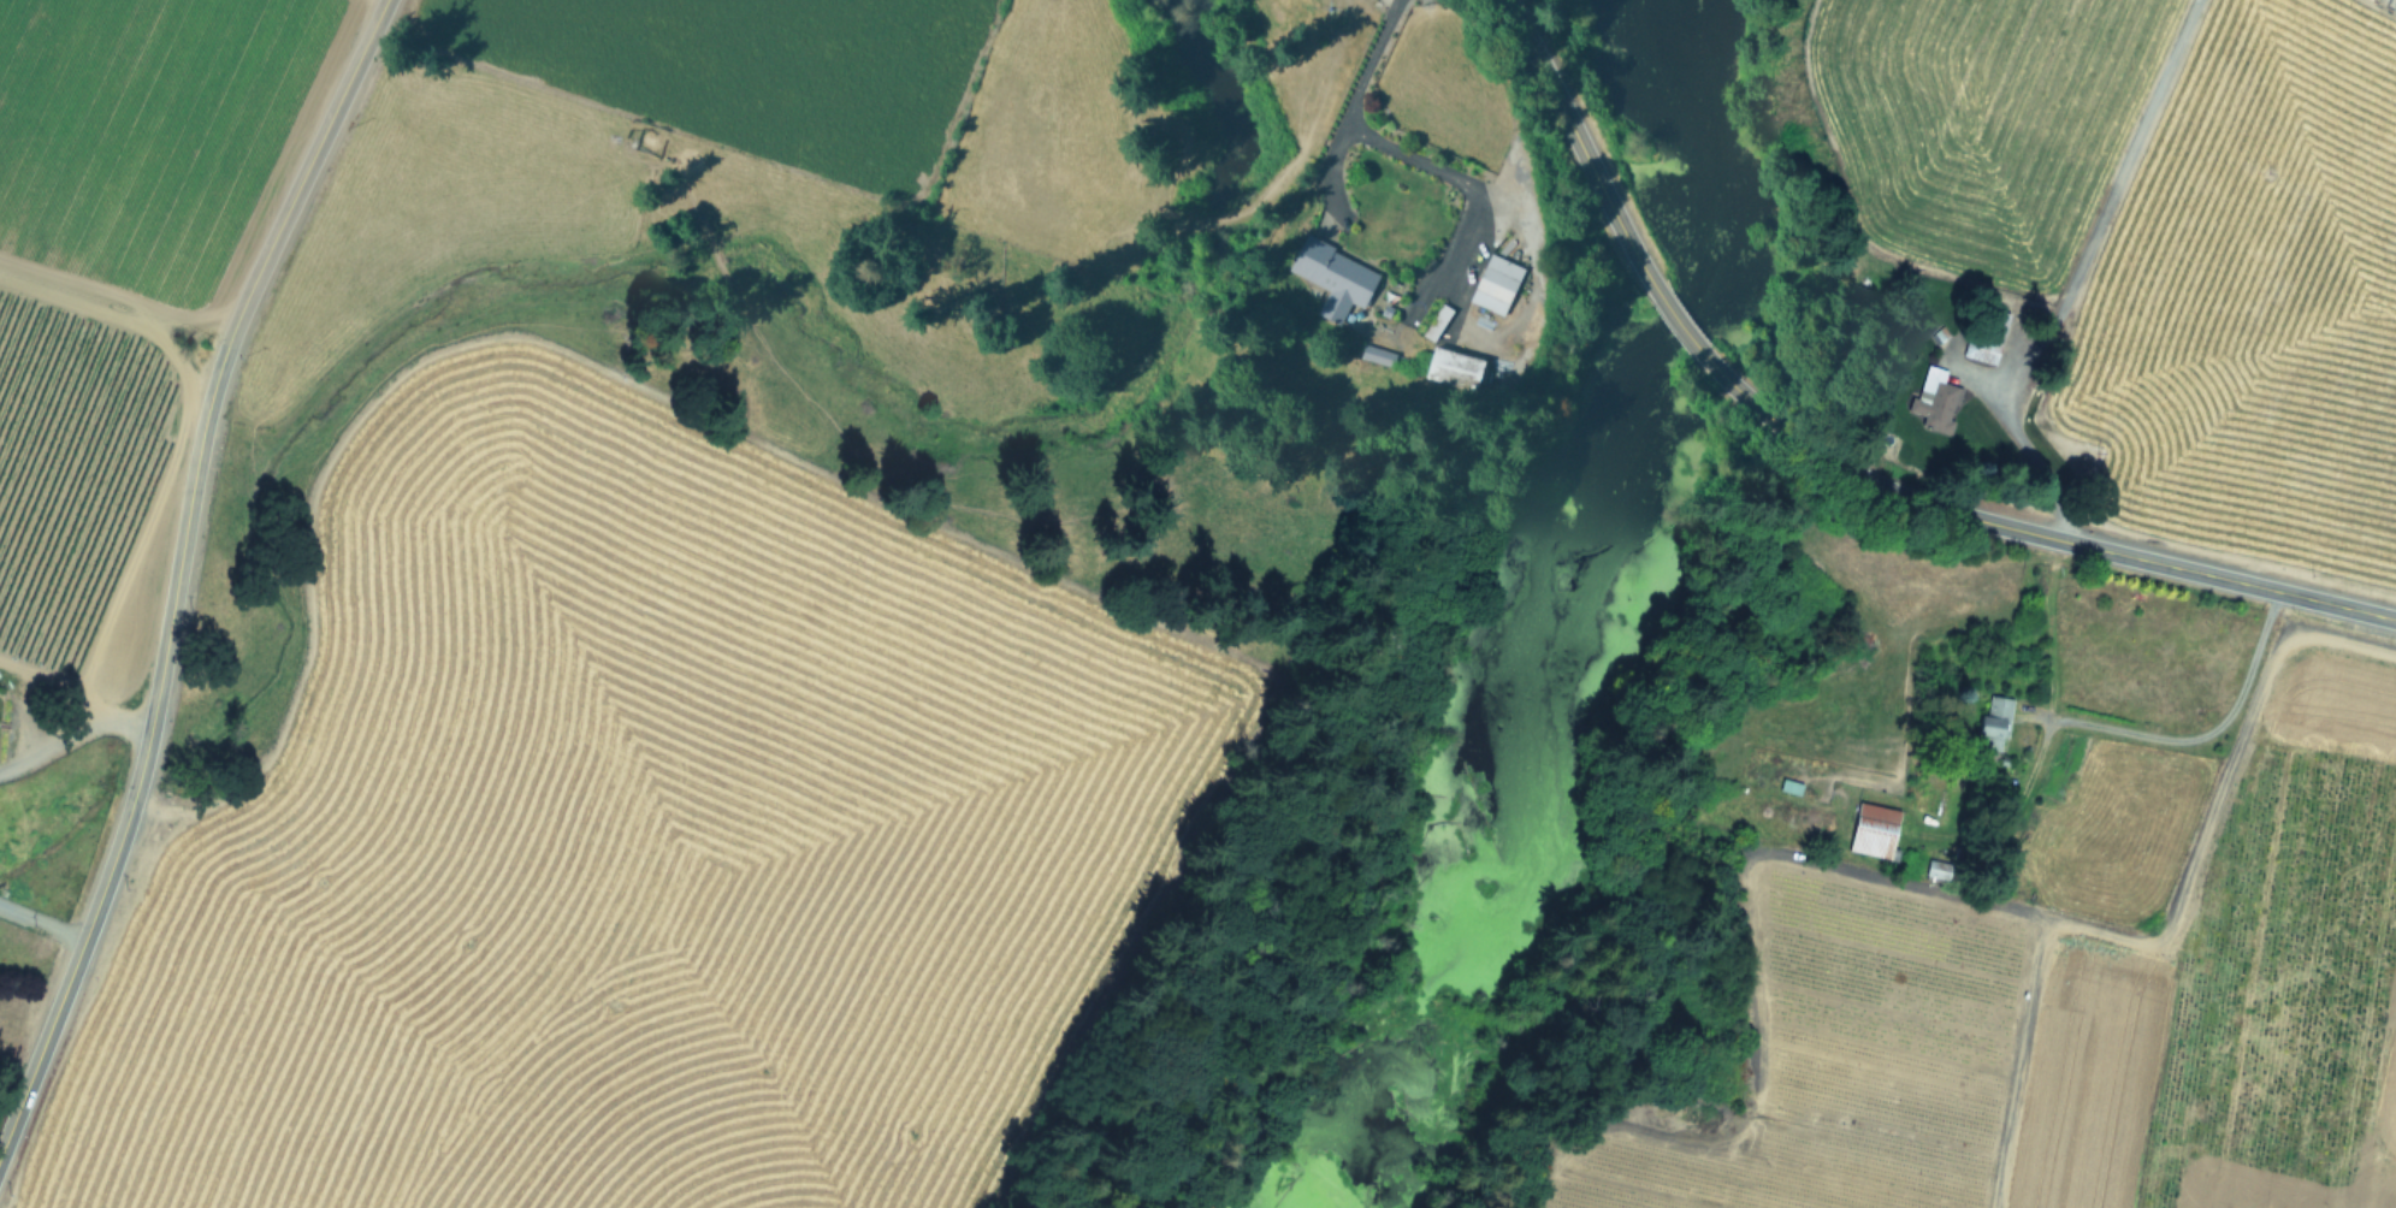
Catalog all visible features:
road: (1349, 106)
road: (1579, 142)
road: (1450, 174)
road: (298, 182)
crop: (2151, 255)
crop: (633, 262)
road: (2073, 276)
building: (1333, 278)
building: (1495, 284)
crop: (110, 303)
building: (1437, 322)
building: (1986, 334)
building: (1454, 369)
road: (1716, 369)
building: (1935, 398)
road: (2089, 546)
building: (1995, 716)
road: (73, 732)
road: (2193, 732)
road: (141, 770)
building: (1874, 830)
crop: (647, 835)
road: (1883, 872)
crop: (2049, 910)
road: (42, 919)
road: (2134, 932)

